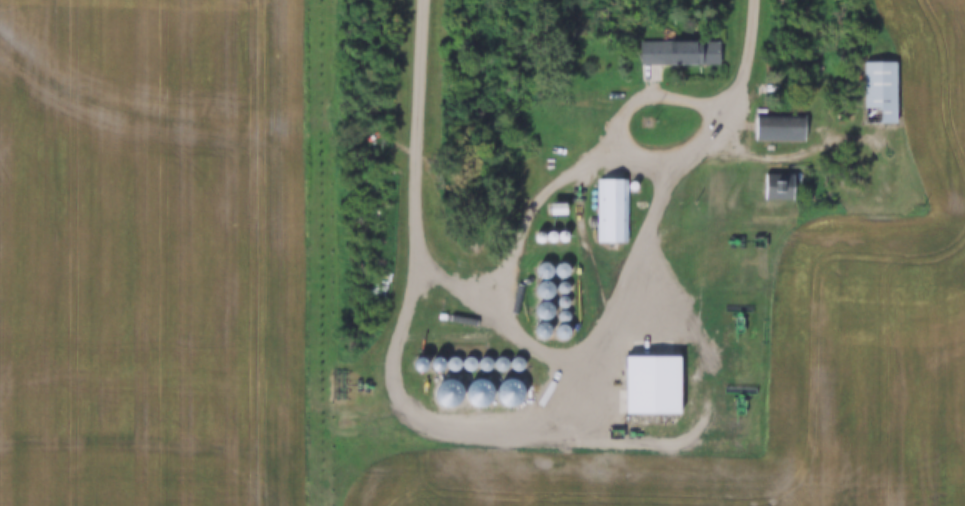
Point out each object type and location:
building: (679, 53)
road: (745, 59)
building: (879, 90)
building: (779, 126)
building: (779, 185)
building: (555, 206)
building: (612, 212)
building: (542, 267)
silo: (542, 267)
building: (561, 269)
silo: (561, 269)
road: (464, 277)
building: (562, 286)
silo: (562, 286)
building: (542, 288)
silo: (542, 288)
building: (562, 300)
silo: (562, 300)
building: (543, 309)
silo: (543, 309)
road: (405, 315)
building: (564, 315)
silo: (564, 315)
building: (541, 329)
silo: (541, 329)
road: (515, 330)
building: (562, 331)
silo: (562, 331)
building: (418, 362)
silo: (418, 362)
building: (436, 362)
silo: (436, 362)
building: (452, 362)
silo: (452, 362)
building: (484, 362)
silo: (484, 362)
building: (468, 363)
silo: (468, 363)
building: (500, 363)
silo: (500, 363)
building: (517, 363)
silo: (517, 363)
building: (652, 383)
building: (511, 392)
silo: (511, 392)

